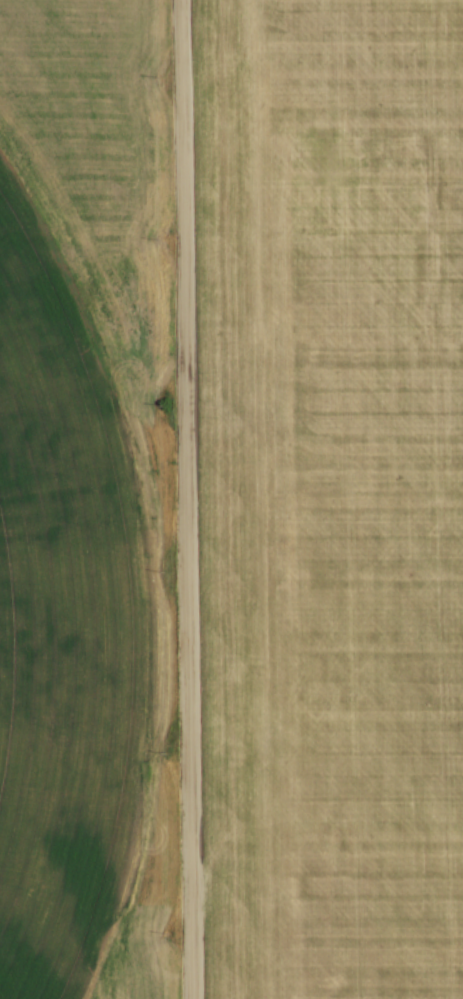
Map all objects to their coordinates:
crop: (331, 495)
road: (182, 499)
crop: (81, 502)

